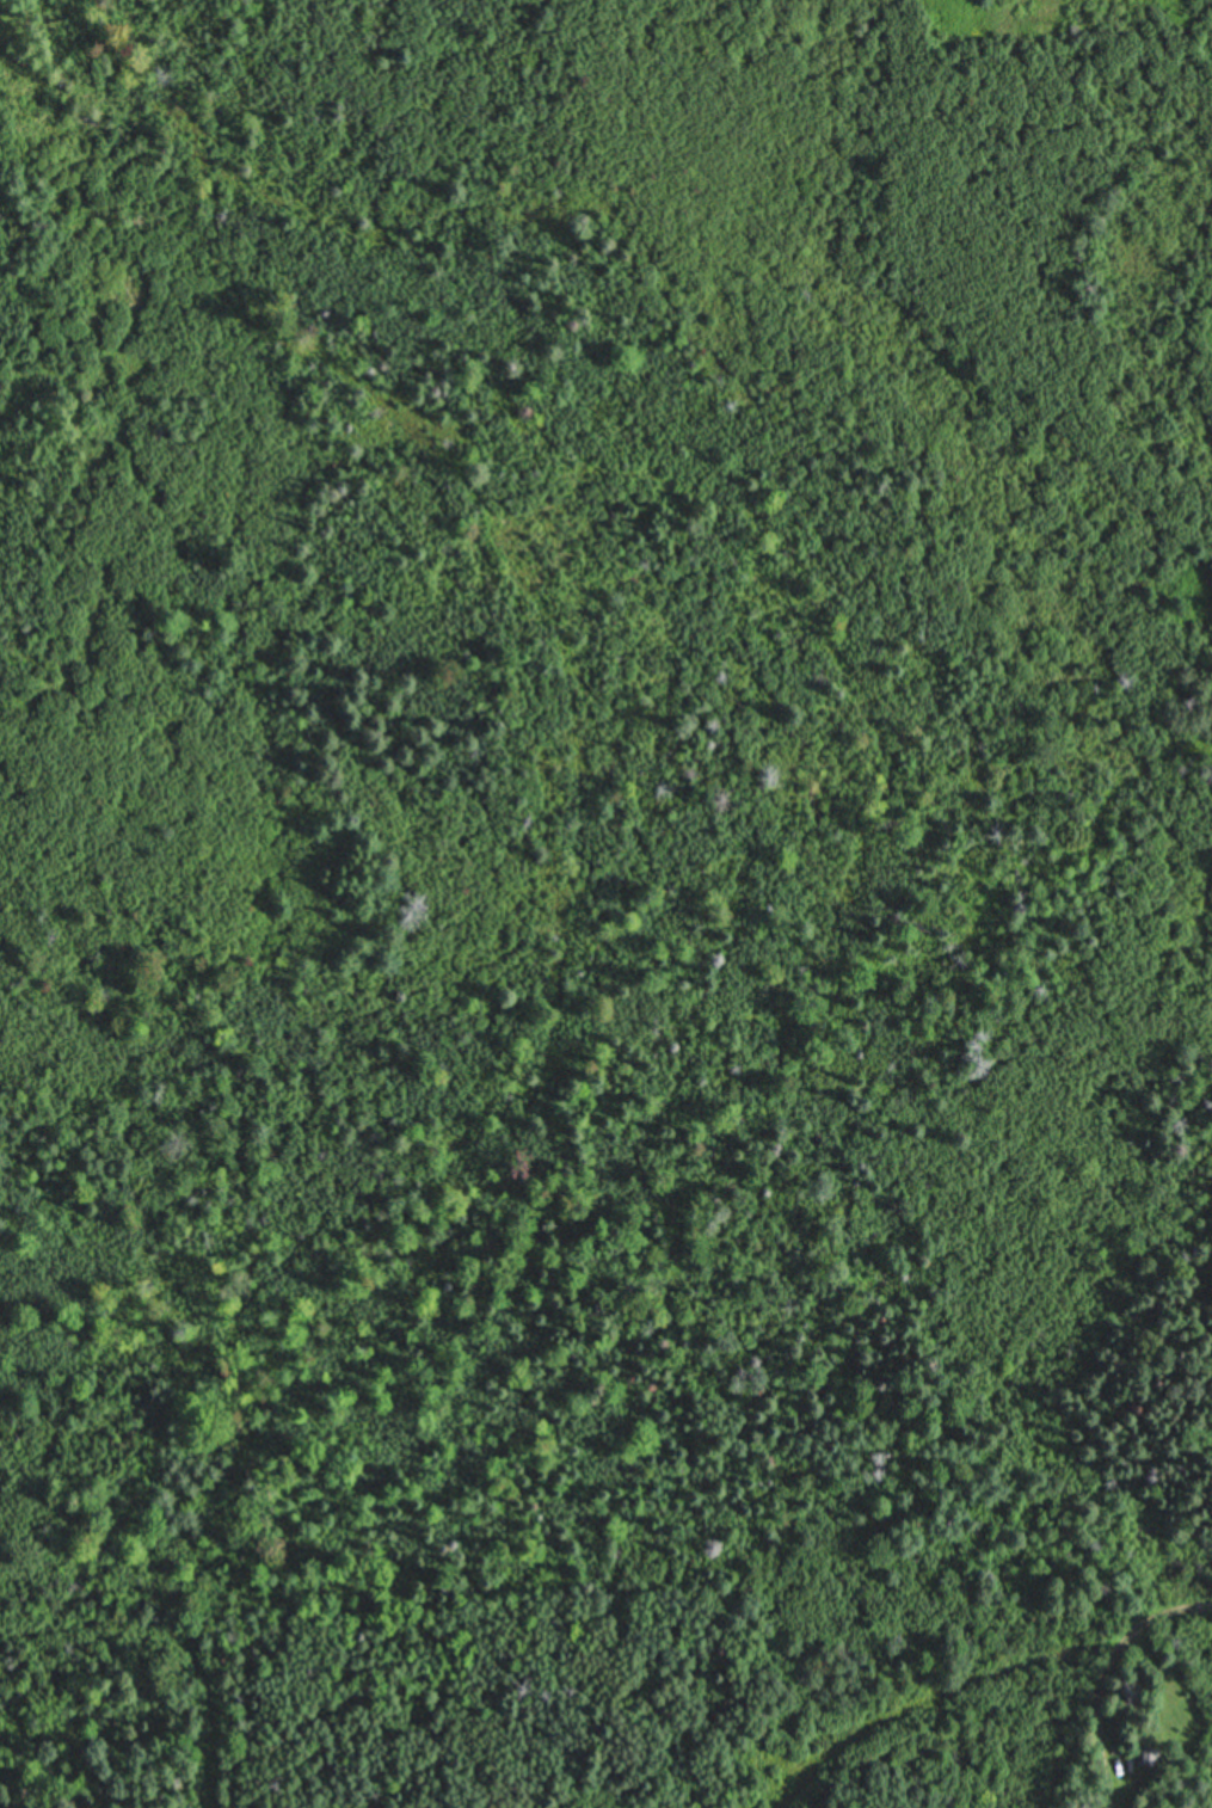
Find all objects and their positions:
road: (1083, 1641)
building: (1150, 1759)

